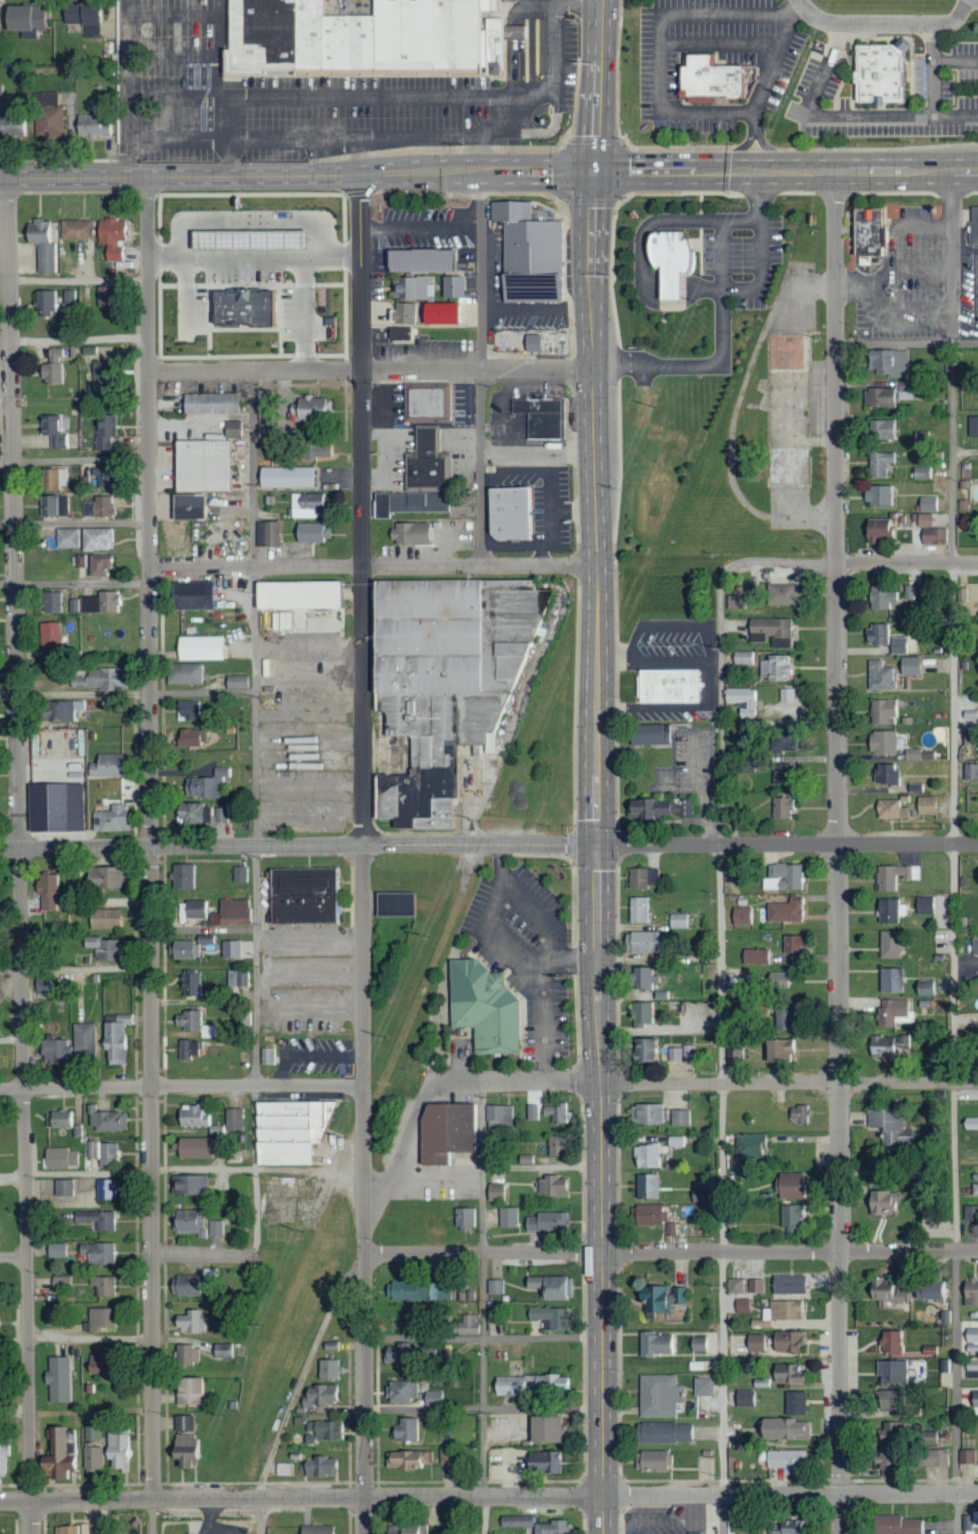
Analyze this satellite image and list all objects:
building: (78, 15)
road: (173, 16)
building: (24, 21)
road: (886, 21)
building: (90, 31)
building: (514, 33)
building: (366, 36)
road: (664, 42)
road: (723, 42)
road: (518, 48)
road: (556, 55)
road: (173, 56)
parking lot: (563, 57)
road: (956, 60)
parking lot: (715, 63)
building: (882, 71)
parking lot: (946, 76)
building: (712, 78)
road: (765, 85)
road: (597, 87)
road: (127, 88)
road: (218, 90)
road: (172, 97)
road: (368, 97)
road: (512, 101)
parking lot: (279, 103)
road: (527, 113)
building: (48, 116)
road: (867, 117)
road: (956, 117)
building: (12, 126)
building: (92, 126)
road: (536, 131)
road: (303, 138)
road: (479, 142)
road: (787, 172)
traffic signals: (596, 174)
road: (297, 176)
building: (974, 225)
road: (420, 228)
building: (873, 231)
building: (78, 233)
building: (111, 239)
building: (41, 246)
building: (531, 251)
building: (672, 259)
parking lot: (743, 260)
building: (418, 262)
road: (763, 273)
road: (4, 278)
building: (243, 278)
gas station: (243, 278)
road: (78, 279)
building: (451, 287)
building: (410, 289)
building: (103, 297)
building: (69, 298)
building: (44, 303)
road: (879, 310)
building: (403, 314)
road: (727, 320)
building: (398, 334)
road: (74, 339)
road: (906, 340)
building: (530, 344)
building: (54, 355)
building: (886, 363)
road: (370, 370)
road: (479, 370)
building: (51, 374)
building: (100, 378)
building: (877, 398)
road: (5, 402)
building: (209, 404)
building: (426, 405)
building: (788, 408)
building: (311, 410)
building: (543, 415)
building: (972, 427)
building: (231, 429)
building: (880, 430)
building: (53, 433)
building: (103, 433)
building: (919, 436)
building: (315, 451)
road: (536, 452)
road: (74, 458)
building: (427, 463)
building: (879, 464)
building: (200, 467)
building: (920, 474)
building: (284, 478)
building: (53, 480)
building: (99, 481)
building: (877, 497)
building: (408, 504)
building: (927, 505)
building: (54, 506)
building: (306, 506)
building: (97, 508)
building: (188, 508)
road: (596, 509)
building: (512, 512)
building: (923, 521)
road: (75, 522)
building: (875, 531)
building: (311, 533)
building: (266, 535)
building: (410, 535)
building: (932, 537)
building: (66, 539)
building: (95, 540)
road: (907, 564)
building: (98, 567)
road: (374, 567)
road: (75, 583)
building: (908, 593)
building: (780, 595)
building: (961, 596)
building: (191, 597)
building: (294, 597)
building: (880, 599)
building: (735, 601)
building: (58, 602)
building: (103, 603)
building: (770, 631)
building: (875, 635)
building: (55, 639)
building: (896, 646)
building: (977, 647)
building: (198, 649)
road: (720, 652)
building: (743, 658)
building: (908, 667)
building: (775, 668)
building: (183, 675)
building: (879, 677)
building: (106, 678)
building: (445, 682)
building: (235, 683)
building: (672, 686)
road: (127, 693)
building: (742, 701)
building: (71, 710)
building: (187, 711)
building: (882, 712)
building: (650, 734)
building: (190, 739)
building: (881, 744)
building: (911, 755)
building: (115, 765)
building: (970, 772)
building: (781, 775)
building: (884, 775)
building: (208, 784)
building: (914, 788)
building: (925, 806)
building: (61, 807)
building: (780, 809)
building: (656, 810)
building: (889, 811)
building: (202, 813)
road: (254, 815)
building: (117, 819)
road: (149, 839)
traffic signals: (598, 845)
road: (787, 845)
road: (298, 846)
road: (839, 852)
road: (954, 853)
road: (363, 854)
road: (19, 856)
building: (74, 868)
building: (242, 874)
building: (109, 876)
building: (184, 876)
building: (894, 876)
building: (783, 877)
building: (642, 878)
building: (49, 891)
building: (307, 895)
road: (497, 895)
building: (398, 904)
building: (924, 905)
building: (197, 909)
building: (638, 909)
building: (784, 910)
building: (889, 910)
building: (234, 913)
building: (741, 915)
building: (107, 918)
building: (678, 920)
building: (58, 925)
road: (310, 938)
building: (207, 939)
building: (640, 942)
building: (792, 943)
building: (889, 944)
building: (974, 946)
building: (109, 948)
building: (230, 949)
building: (186, 950)
building: (754, 956)
building: (83, 959)
road: (74, 968)
road: (310, 968)
building: (382, 976)
building: (239, 978)
building: (642, 978)
building: (777, 979)
building: (890, 980)
building: (193, 982)
building: (44, 983)
building: (924, 988)
building: (220, 990)
road: (545, 995)
road: (309, 1005)
building: (486, 1007)
building: (893, 1012)
building: (641, 1014)
building: (120, 1018)
building: (246, 1018)
building: (783, 1018)
building: (191, 1020)
building: (0, 1028)
building: (209, 1030)
building: (117, 1042)
building: (86, 1045)
building: (886, 1045)
building: (192, 1048)
building: (641, 1050)
building: (778, 1050)
building: (57, 1051)
road: (310, 1053)
building: (687, 1053)
building: (674, 1054)
building: (268, 1055)
building: (733, 1055)
building: (1, 1058)
road: (706, 1084)
road: (181, 1086)
building: (532, 1112)
building: (556, 1113)
building: (648, 1114)
building: (797, 1114)
building: (191, 1116)
building: (498, 1117)
building: (679, 1117)
building: (59, 1119)
building: (104, 1119)
building: (232, 1119)
building: (888, 1128)
building: (293, 1130)
building: (448, 1131)
building: (675, 1142)
building: (554, 1146)
building: (749, 1146)
building: (193, 1147)
road: (405, 1148)
building: (104, 1153)
building: (231, 1156)
building: (646, 1156)
building: (61, 1158)
building: (524, 1160)
road: (541, 1165)
road: (182, 1169)
building: (188, 1185)
building: (551, 1186)
building: (646, 1186)
building: (786, 1186)
building: (65, 1187)
building: (104, 1189)
road: (602, 1189)
road: (722, 1189)
building: (974, 1189)
building: (495, 1192)
building: (696, 1195)
building: (881, 1201)
building: (970, 1213)
building: (644, 1215)
building: (791, 1216)
building: (463, 1217)
building: (507, 1217)
building: (102, 1221)
building: (186, 1222)
building: (546, 1222)
building: (1, 1225)
building: (214, 1228)
building: (669, 1229)
building: (63, 1249)
building: (102, 1252)
road: (671, 1253)
road: (205, 1256)
road: (13, 1257)
building: (65, 1282)
building: (788, 1284)
building: (108, 1285)
building: (184, 1285)
building: (495, 1286)
building: (735, 1286)
building: (754, 1286)
building: (550, 1287)
building: (885, 1291)
building: (928, 1291)
building: (422, 1292)
building: (970, 1292)
building: (661, 1298)
building: (741, 1306)
road: (484, 1308)
building: (781, 1311)
building: (57, 1315)
building: (549, 1317)
building: (944, 1317)
building: (106, 1319)
building: (0, 1322)
building: (188, 1323)
building: (468, 1325)
building: (971, 1334)
road: (484, 1337)
road: (76, 1338)
building: (788, 1341)
building: (890, 1342)
building: (754, 1343)
building: (655, 1344)
building: (697, 1344)
building: (222, 1350)
building: (190, 1352)
building: (395, 1354)
building: (114, 1362)
building: (327, 1369)
building: (971, 1369)
building: (890, 1372)
building: (786, 1373)
building: (64, 1378)
building: (528, 1384)
building: (702, 1386)
road: (296, 1388)
building: (196, 1390)
building: (401, 1391)
building: (321, 1396)
building: (658, 1396)
building: (744, 1398)
building: (433, 1399)
building: (891, 1400)
building: (794, 1404)
road: (484, 1406)
road: (76, 1410)
building: (189, 1422)
building: (405, 1430)
building: (542, 1430)
building: (783, 1430)
building: (323, 1431)
building: (96, 1432)
building: (662, 1433)
building: (887, 1433)
building: (927, 1437)
building: (123, 1448)
building: (193, 1450)
building: (65, 1452)
building: (443, 1455)
building: (99, 1456)
building: (977, 1456)
building: (6, 1457)
building: (966, 1457)
building: (931, 1458)
building: (883, 1459)
building: (407, 1460)
building: (785, 1460)
building: (652, 1461)
building: (541, 1462)
building: (319, 1467)
building: (282, 1469)
road: (488, 1491)
road: (488, 1498)
building: (514, 1522)
building: (897, 1525)
building: (97, 1528)
building: (550, 1528)
building: (783, 1528)
building: (72, 1529)
building: (315, 1529)
building: (405, 1529)
building: (192, 1533)

